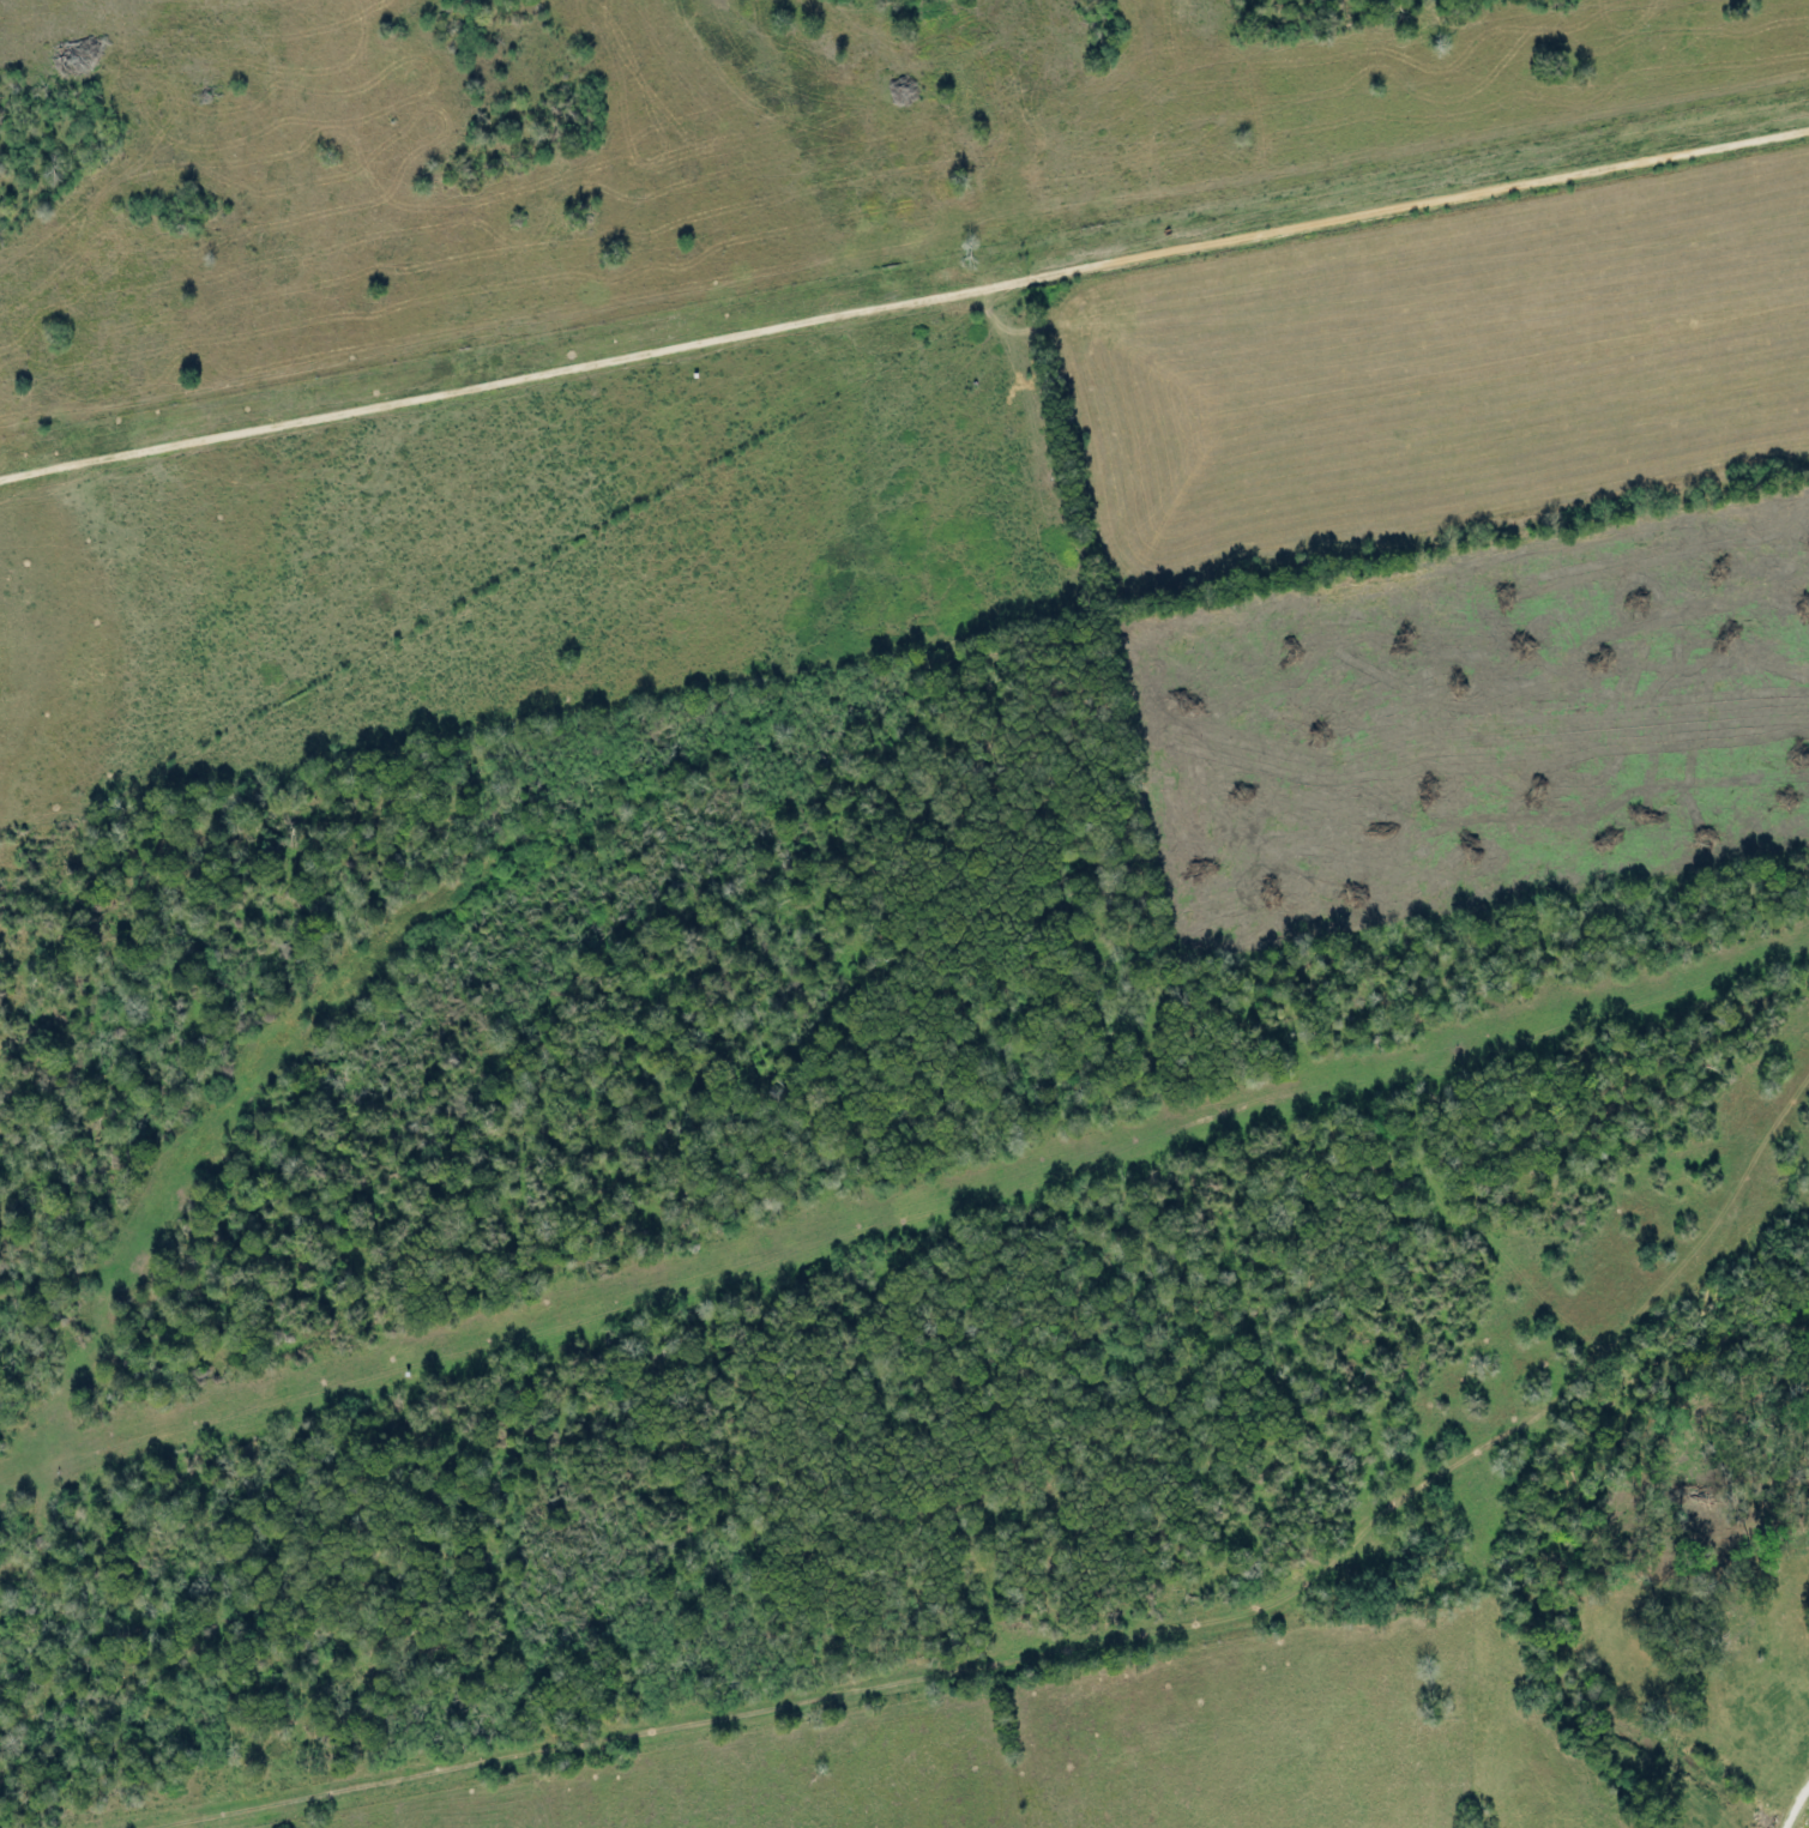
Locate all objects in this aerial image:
road: (1802, 1814)

